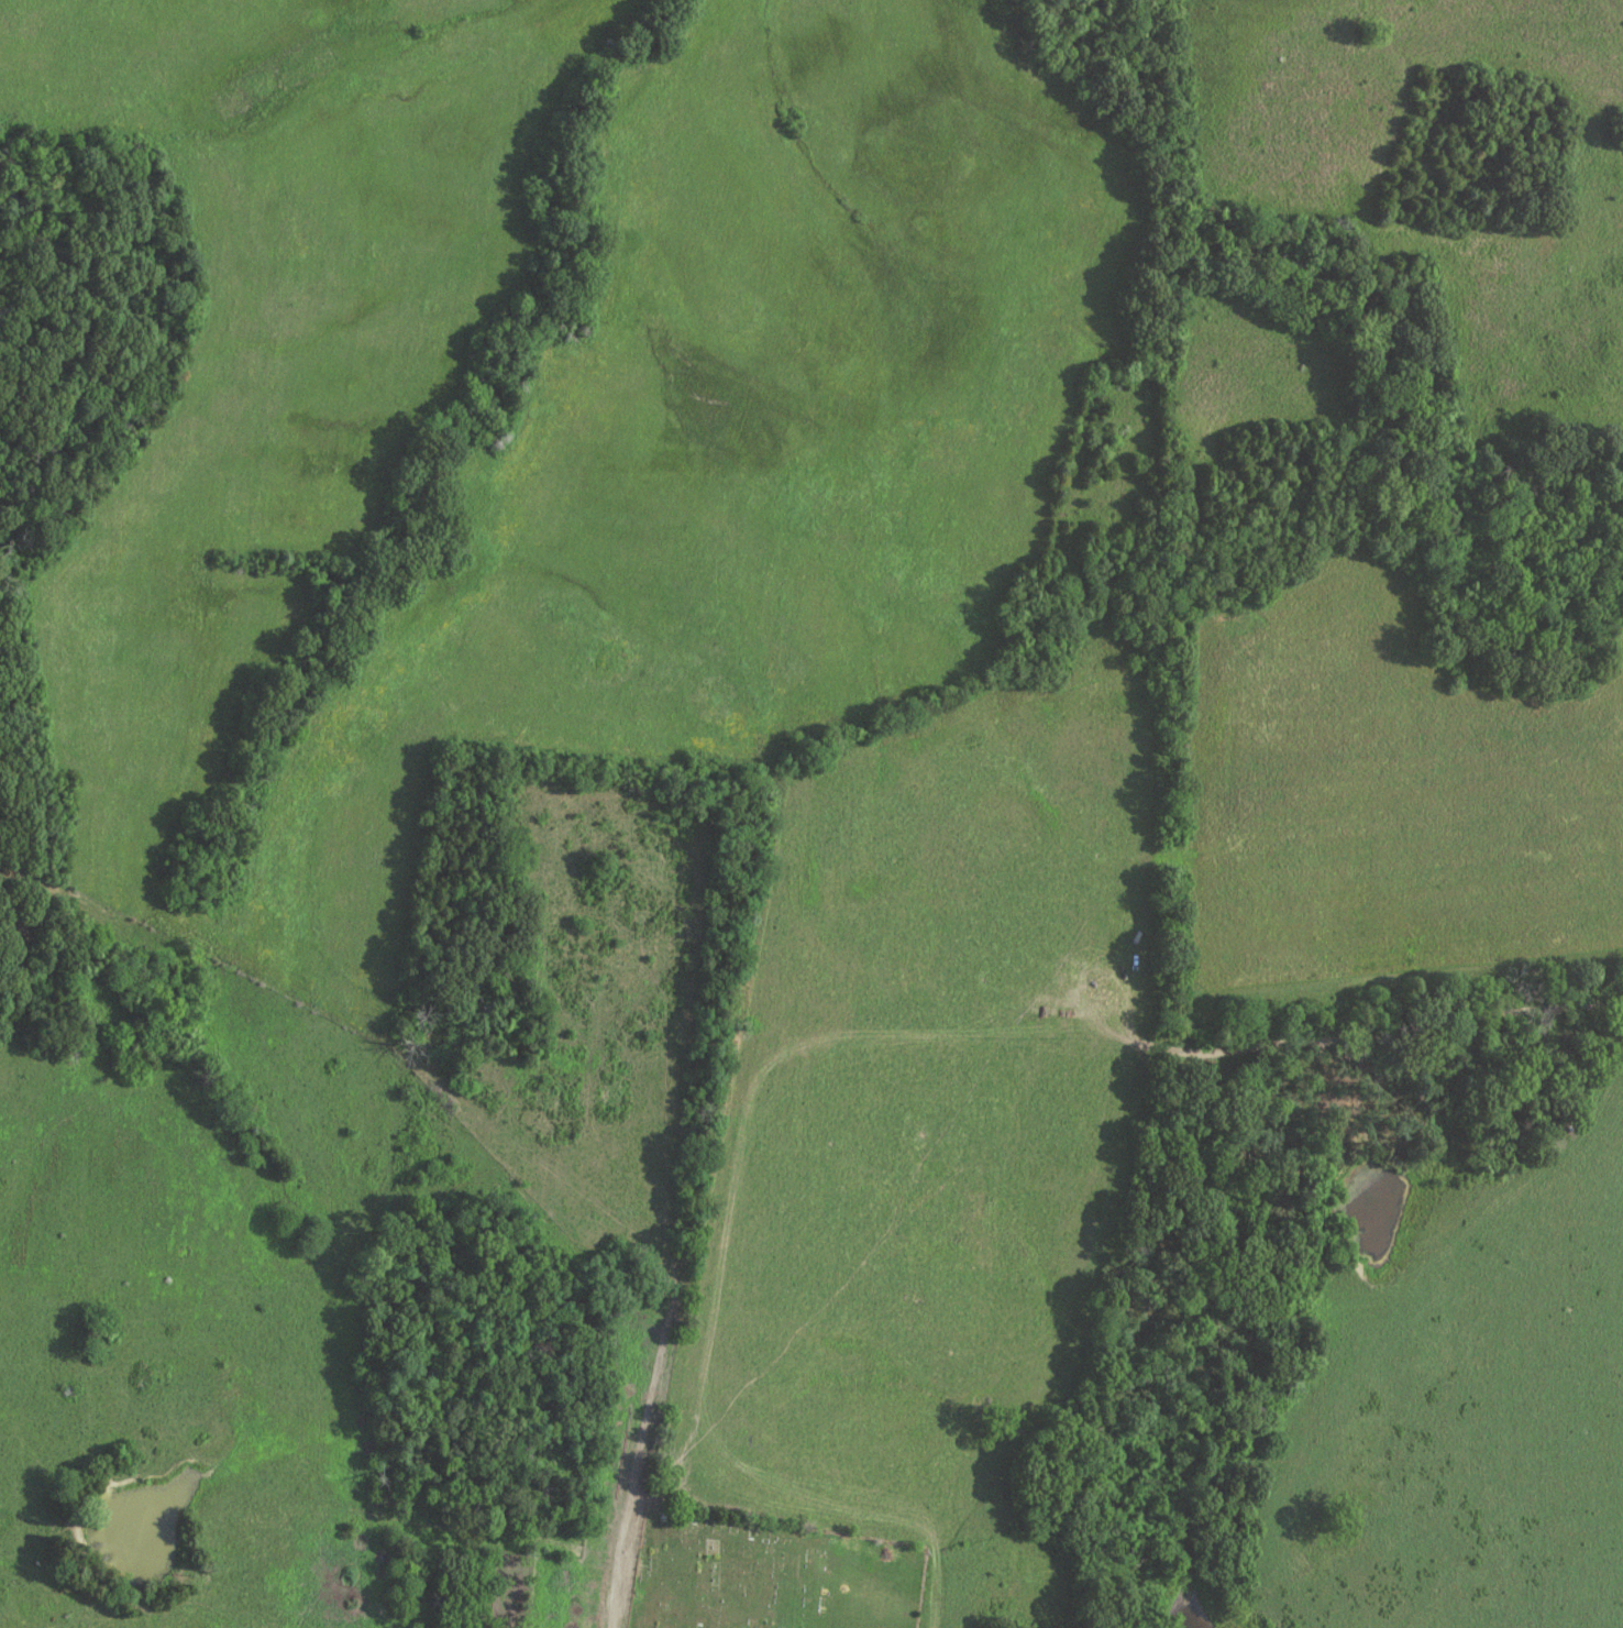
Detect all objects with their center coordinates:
park: (766, 1574)

